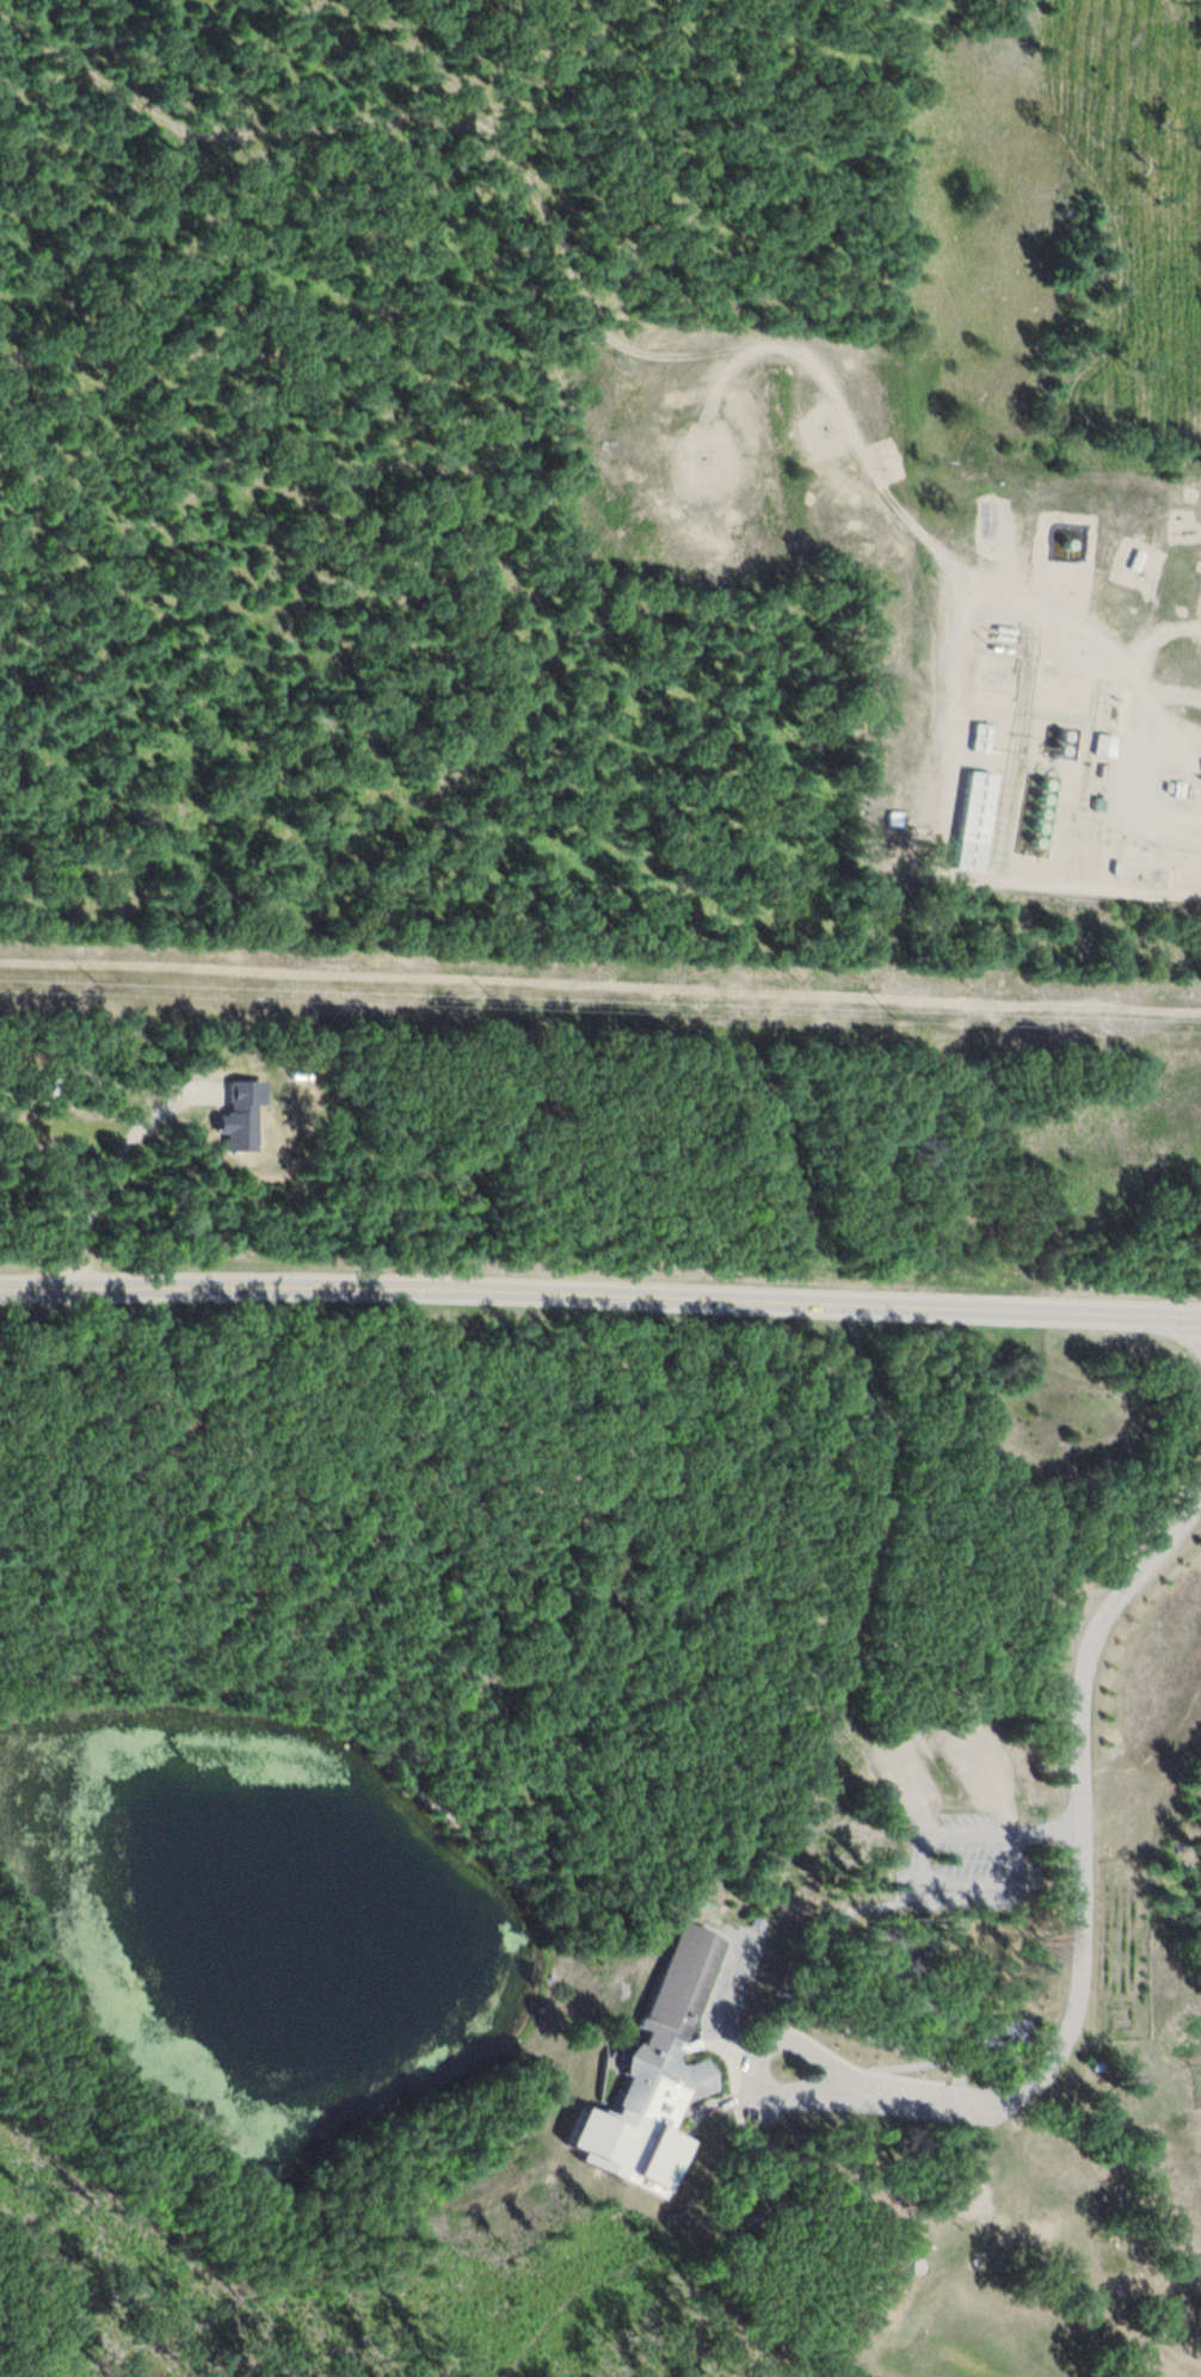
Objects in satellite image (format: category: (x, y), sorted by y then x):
road: (616, 334)
building: (975, 739)
building: (1100, 746)
building: (968, 821)
road: (600, 981)
building: (236, 1114)
road: (113, 1164)
road: (600, 1297)
road: (1080, 1903)
building: (900, 1939)
building: (999, 2032)
building: (655, 2071)

